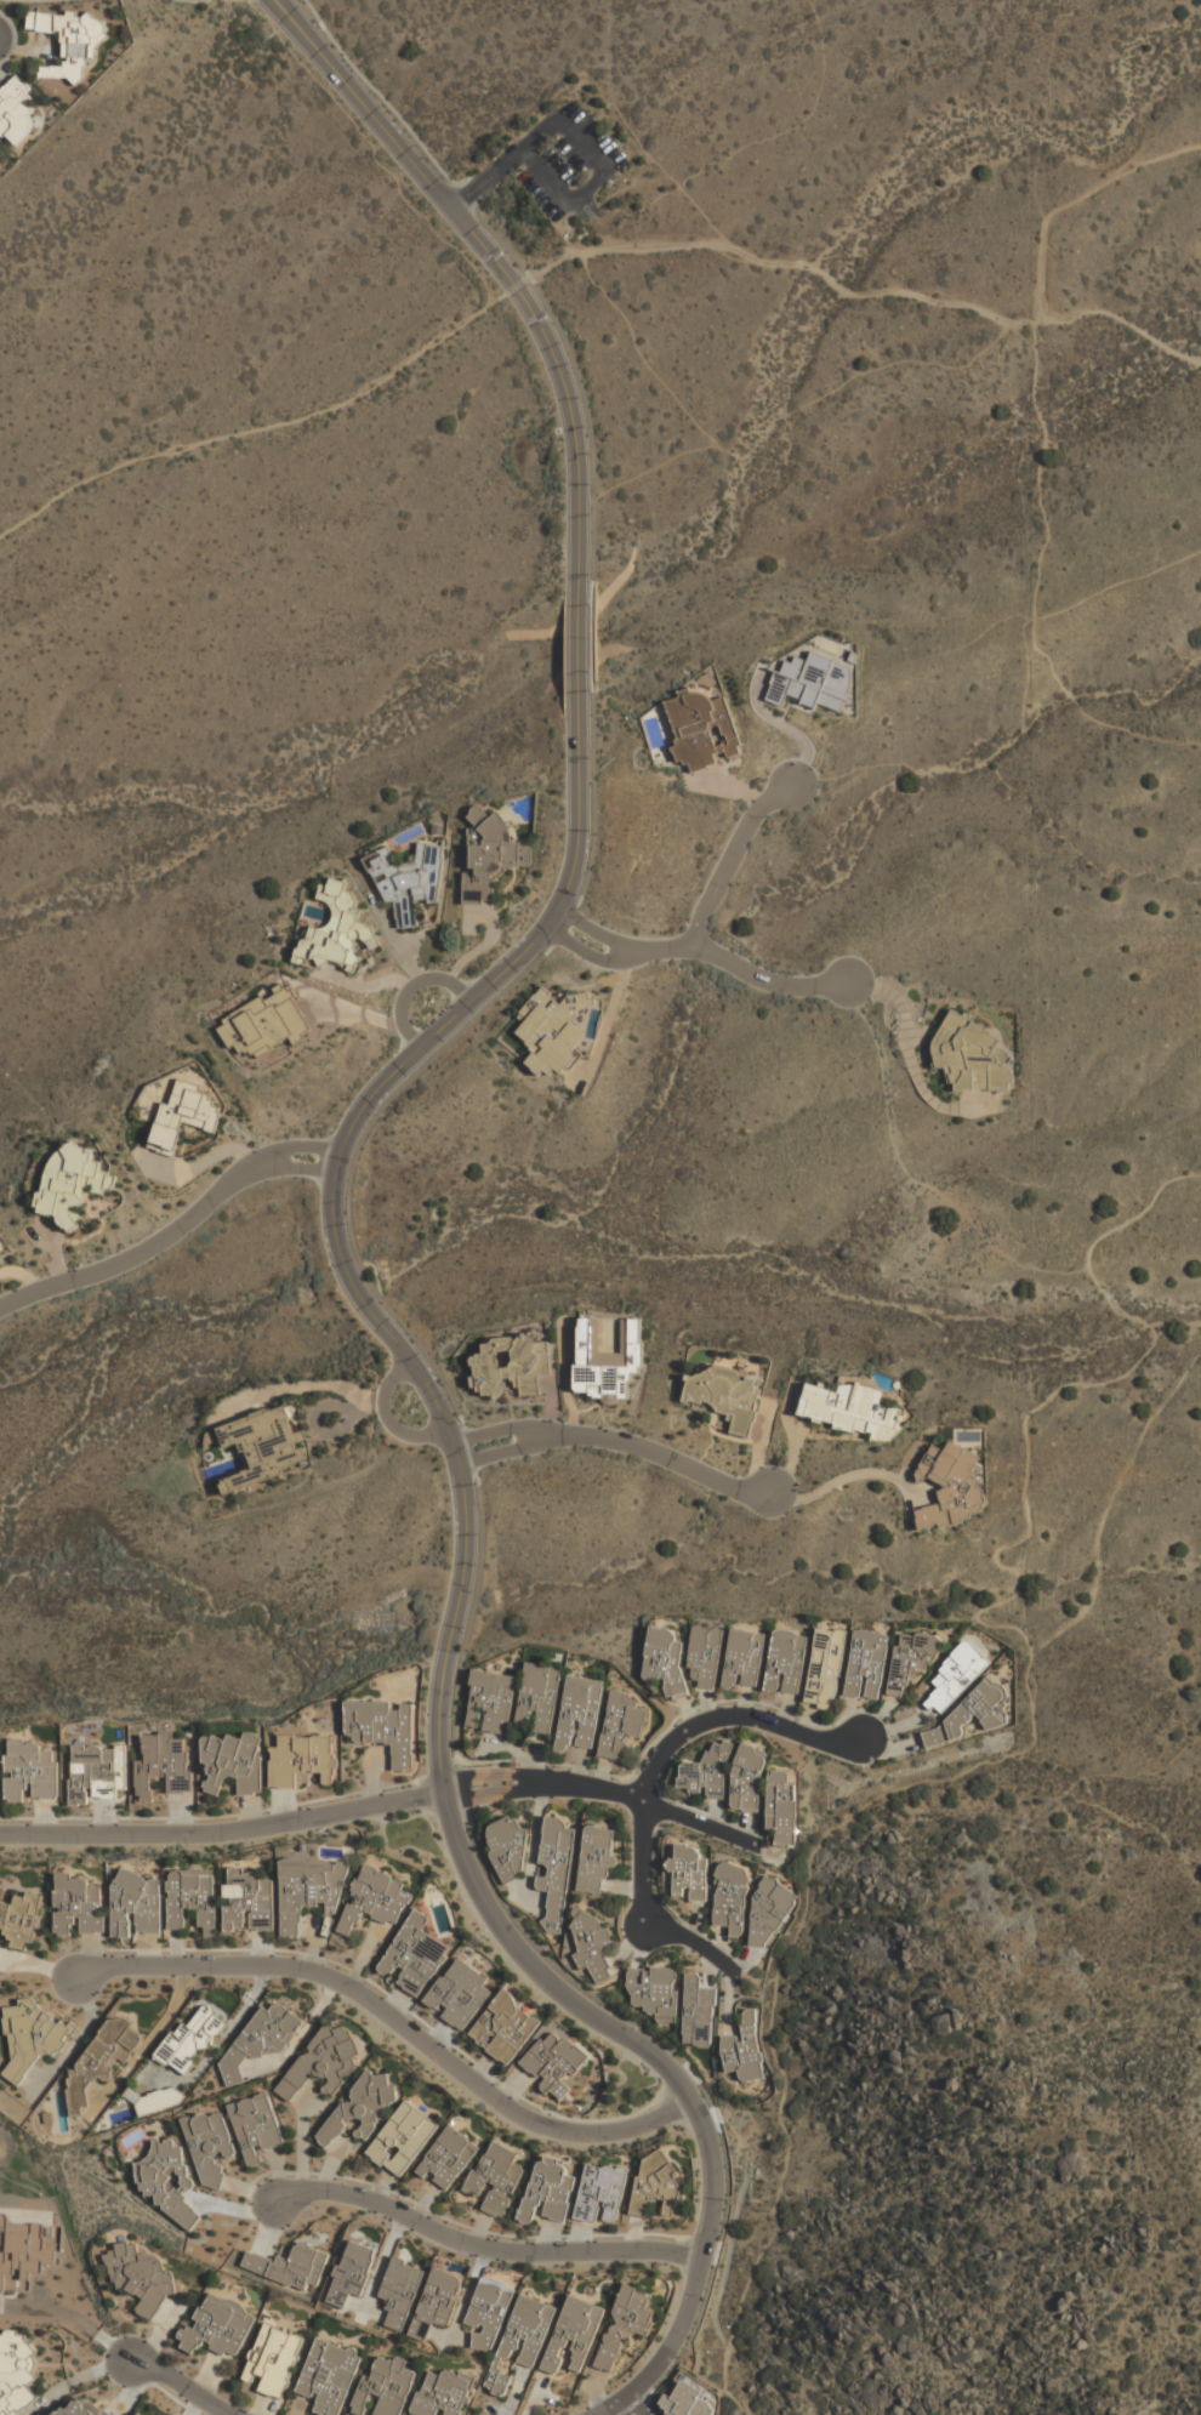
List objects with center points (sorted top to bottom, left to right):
road: (197, 0)
building: (69, 41)
road: (389, 106)
building: (16, 110)
road: (575, 135)
parking lot: (563, 161)
road: (1074, 201)
road: (567, 228)
road: (581, 252)
road: (496, 262)
road: (571, 365)
road: (1117, 582)
road: (1037, 591)
road: (588, 637)
road: (577, 645)
building: (812, 680)
building: (704, 730)
building: (659, 733)
road: (730, 856)
building: (490, 859)
building: (409, 879)
road: (586, 925)
building: (337, 932)
road: (575, 946)
road: (732, 961)
road: (410, 985)
building: (263, 1021)
building: (550, 1032)
building: (973, 1055)
building: (183, 1116)
road: (308, 1145)
road: (340, 1149)
road: (308, 1168)
building: (70, 1183)
building: (1, 1246)
road: (149, 1246)
building: (608, 1359)
building: (512, 1366)
building: (727, 1395)
building: (852, 1409)
road: (386, 1417)
road: (488, 1431)
building: (266, 1446)
road: (651, 1451)
road: (493, 1453)
road: (844, 1479)
building: (949, 1486)
road: (483, 1560)
building: (706, 1657)
building: (666, 1661)
building: (744, 1661)
building: (911, 1661)
building: (785, 1663)
building: (867, 1665)
building: (825, 1669)
building: (957, 1678)
building: (537, 1697)
building: (490, 1703)
building: (973, 1713)
road: (730, 1715)
building: (580, 1716)
building: (622, 1725)
building: (383, 1730)
road: (1023, 1749)
building: (302, 1760)
building: (233, 1762)
building: (164, 1766)
building: (707, 1772)
building: (30, 1773)
building: (96, 1773)
road: (476, 1775)
road: (522, 1776)
building: (749, 1779)
road: (491, 1783)
road: (519, 1789)
road: (474, 1795)
road: (647, 1802)
building: (782, 1807)
road: (223, 1832)
building: (510, 1849)
building: (596, 1859)
building: (557, 1867)
building: (690, 1873)
building: (308, 1891)
building: (192, 1898)
building: (374, 1899)
building: (732, 1899)
building: (249, 1901)
building: (78, 1906)
building: (137, 1906)
road: (648, 1912)
building: (769, 1912)
building: (19, 1920)
building: (592, 1943)
building: (415, 1957)
building: (654, 1993)
building: (459, 1994)
building: (699, 2012)
road: (393, 2021)
building: (506, 2028)
road: (621, 2033)
building: (34, 2035)
building: (192, 2041)
building: (258, 2041)
building: (744, 2050)
building: (102, 2062)
building: (324, 2062)
building: (554, 2063)
park: (910, 2074)
building: (143, 2104)
building: (360, 2109)
building: (257, 2126)
building: (403, 2140)
building: (210, 2146)
building: (449, 2159)
building: (496, 2178)
building: (167, 2182)
building: (658, 2186)
building: (548, 2192)
building: (603, 2194)
road: (480, 2246)
building: (22, 2251)
building: (290, 2266)
building: (354, 2269)
building: (142, 2277)
building: (400, 2290)
building: (437, 2305)
building: (488, 2313)
building: (626, 2322)
building: (220, 2326)
building: (531, 2328)
building: (573, 2336)
building: (273, 2360)
building: (17, 2374)
building: (329, 2376)
building: (496, 2379)
road: (180, 2385)
building: (385, 2387)
building: (444, 2394)
road: (632, 2405)
road: (621, 2407)
building: (81, 2408)
building: (135, 2414)

